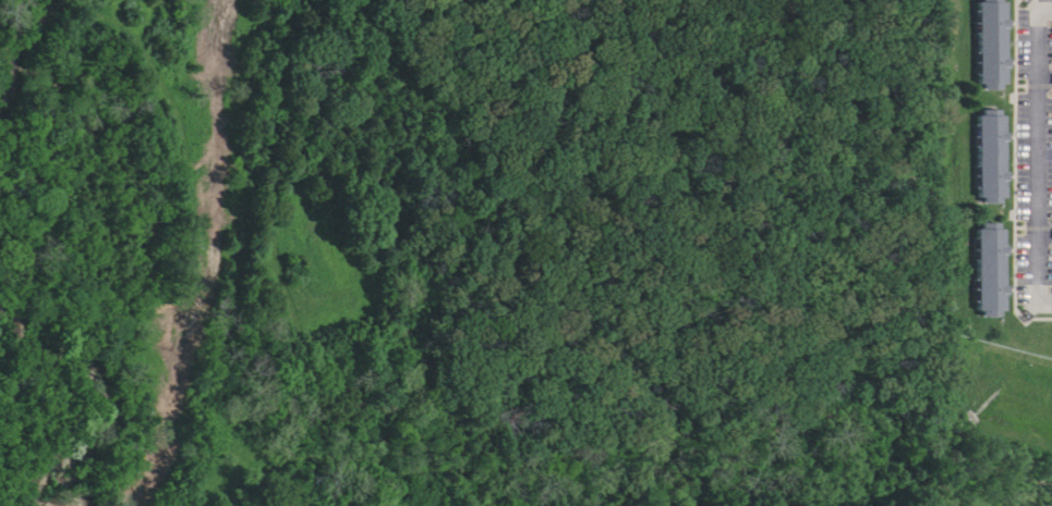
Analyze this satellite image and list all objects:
building: (990, 33)
building: (986, 143)
road: (1038, 157)
building: (982, 255)
building: (994, 273)

